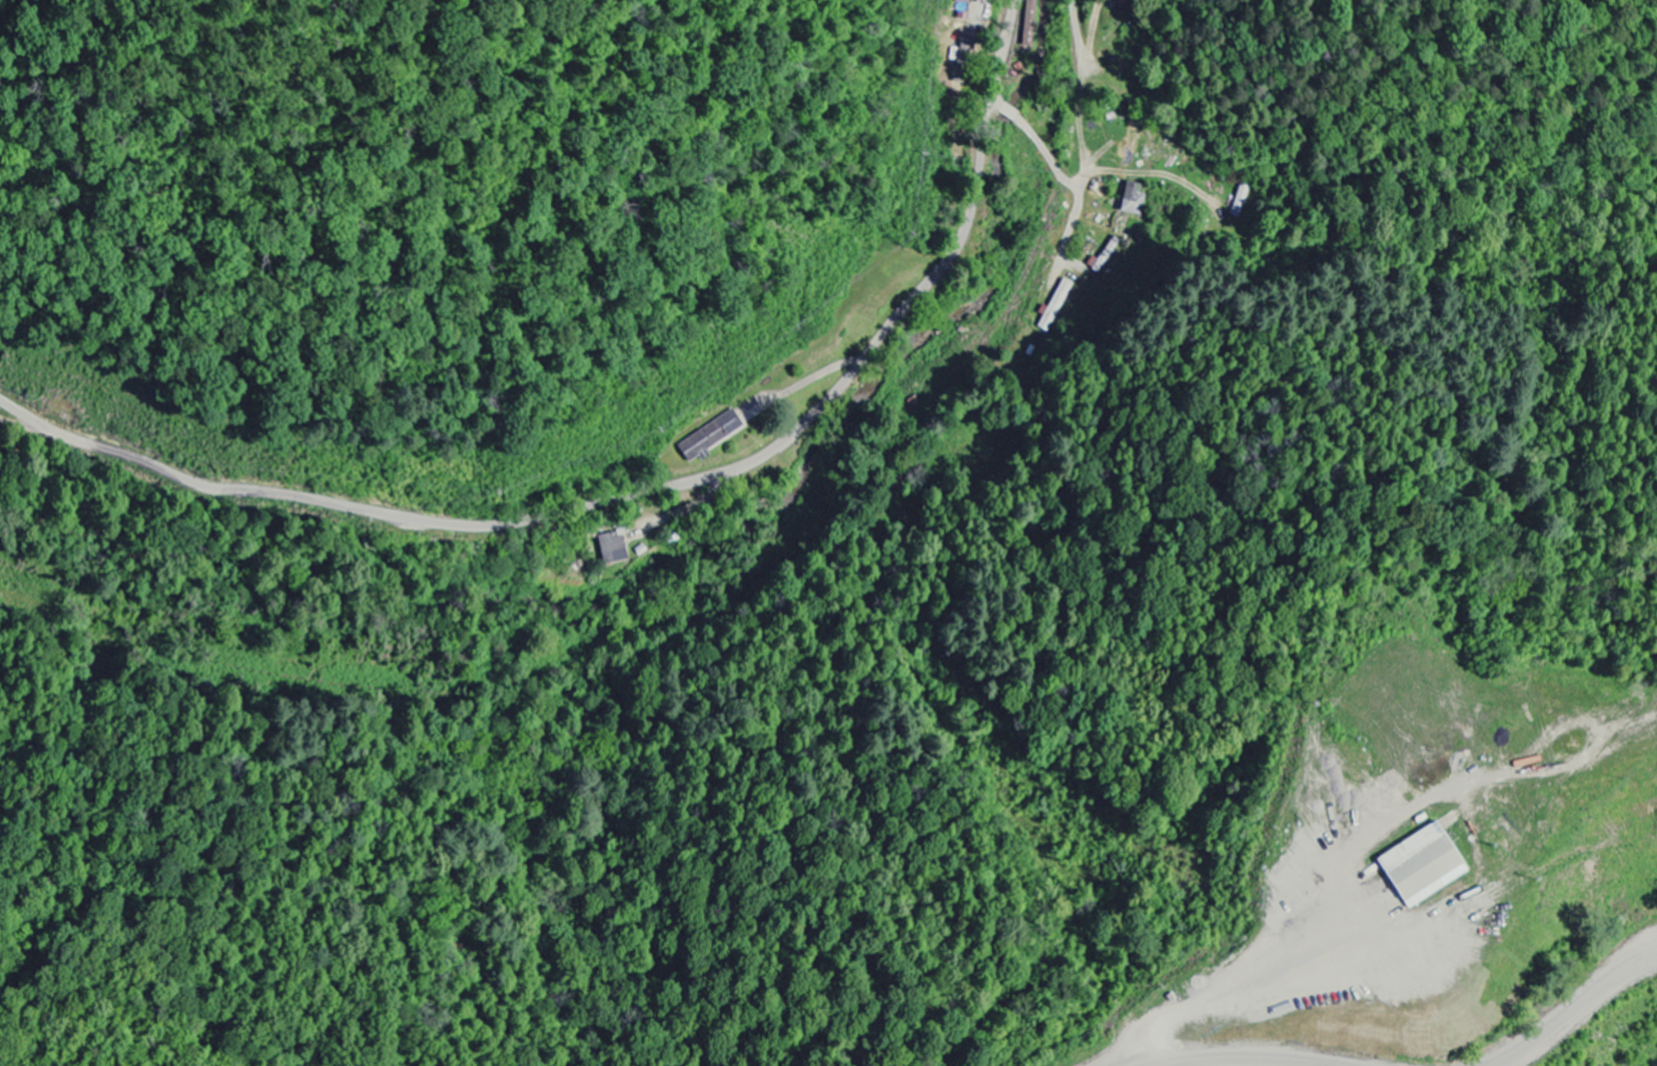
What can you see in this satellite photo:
building: (962, 1)
building: (1117, 2)
building: (1030, 16)
road: (1078, 116)
building: (1129, 148)
road: (1047, 154)
road: (1112, 162)
building: (1134, 200)
building: (709, 436)
road: (642, 492)
building: (612, 548)
building: (1422, 866)

